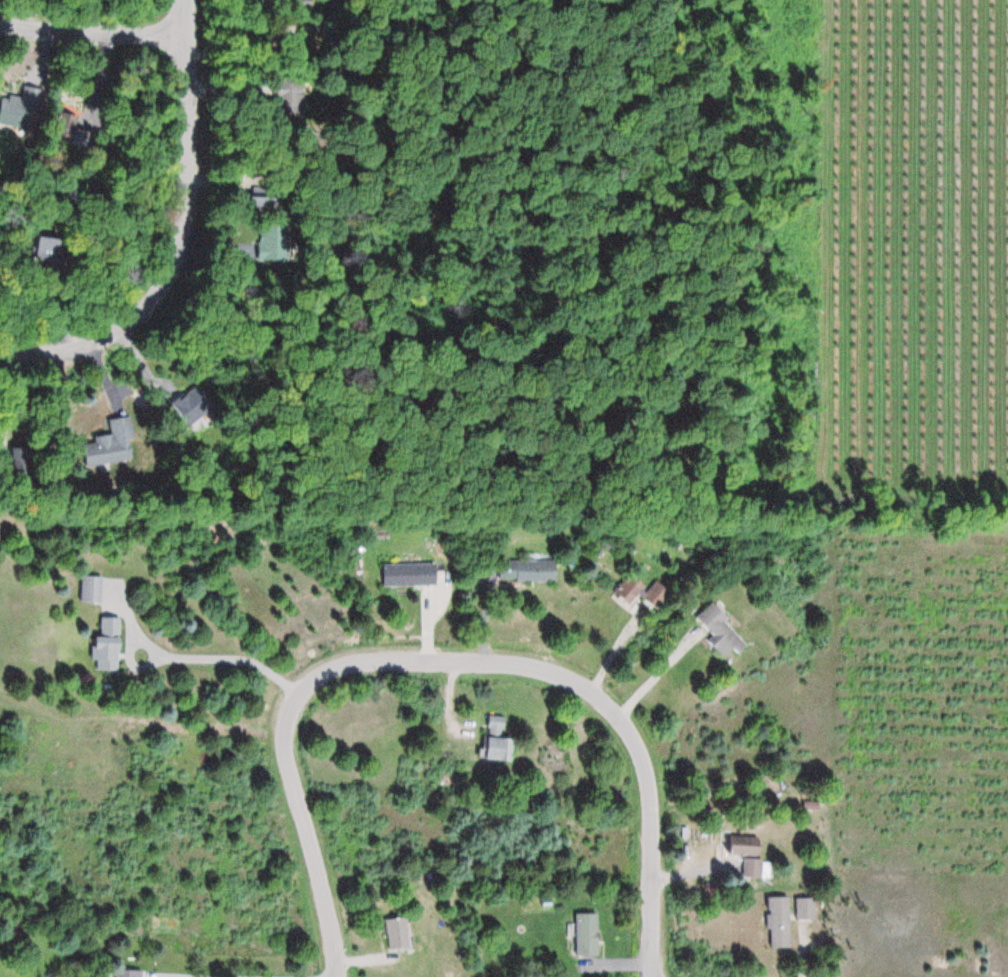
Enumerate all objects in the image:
road: (94, 34)
building: (288, 97)
building: (16, 110)
road: (184, 238)
building: (278, 248)
building: (112, 444)
building: (531, 571)
building: (410, 574)
building: (87, 588)
building: (638, 591)
building: (722, 632)
building: (109, 644)
road: (447, 659)
building: (497, 739)
building: (747, 846)
building: (756, 869)
building: (805, 908)
building: (779, 921)
building: (398, 932)
building: (587, 933)
building: (129, 973)

